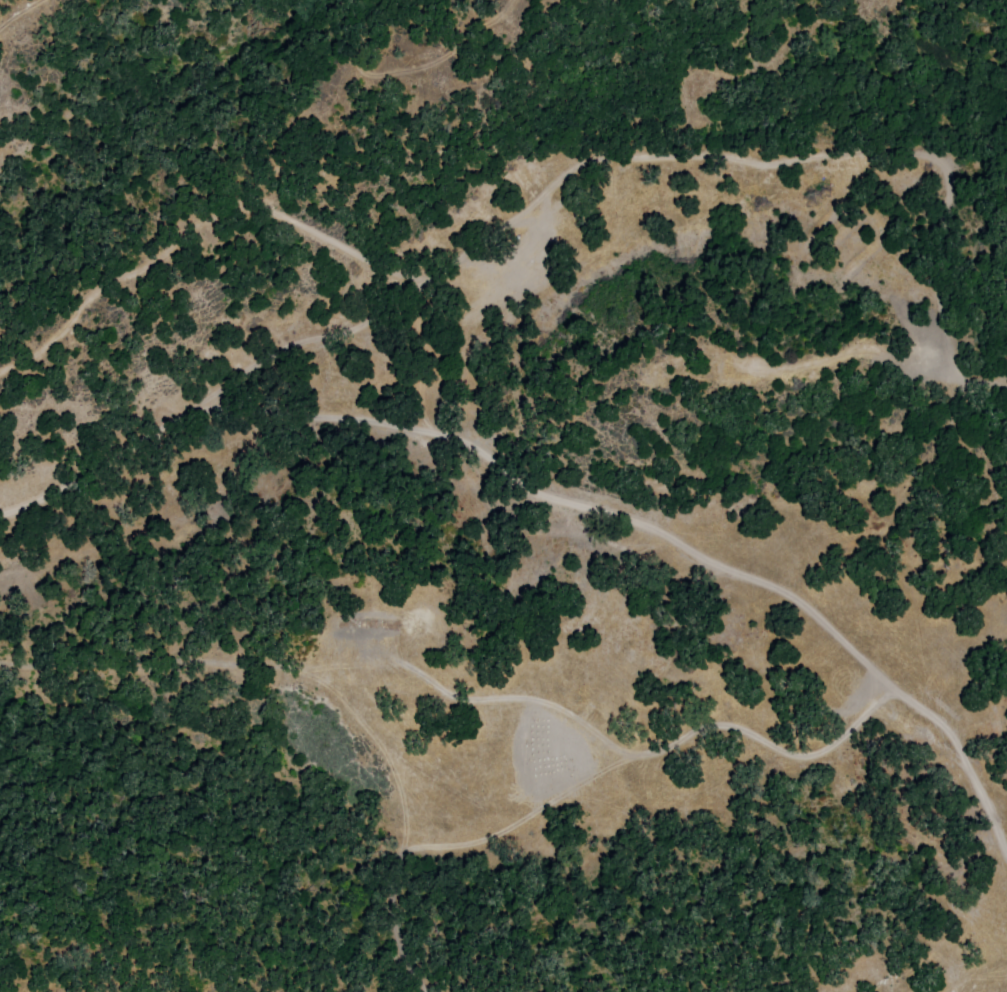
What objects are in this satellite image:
road: (212, 98)
road: (556, 498)

